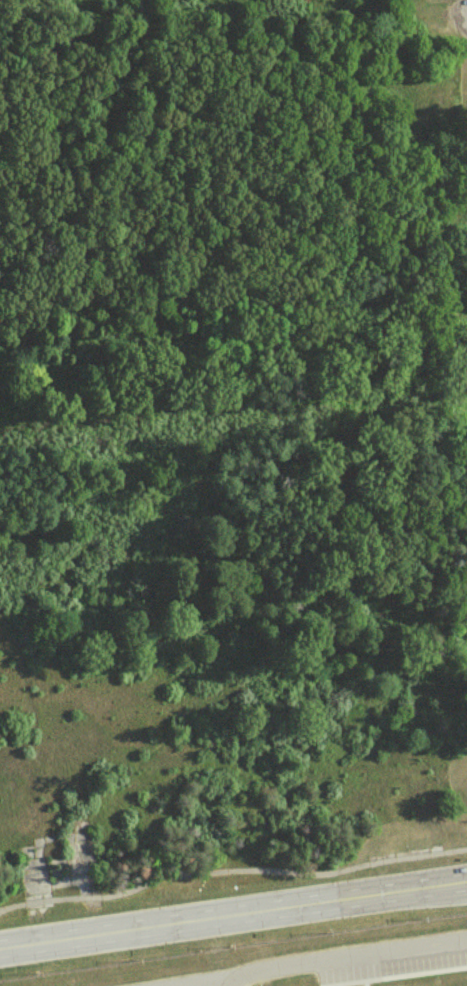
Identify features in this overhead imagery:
road: (232, 867)
road: (233, 913)
road: (313, 961)
road: (216, 981)

